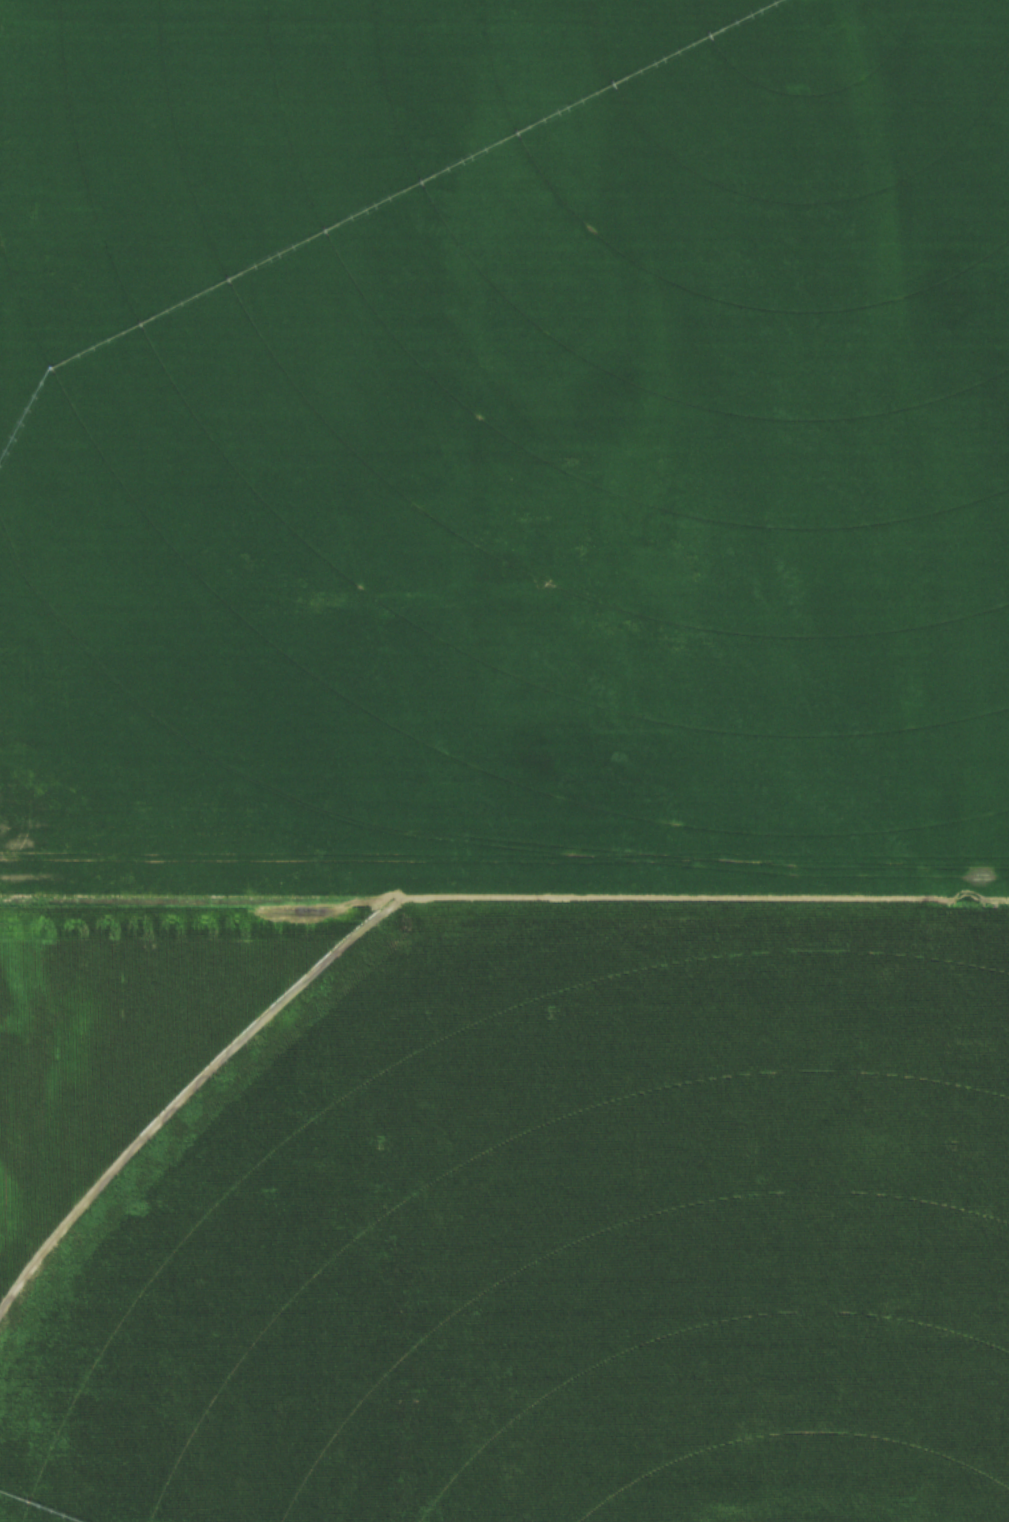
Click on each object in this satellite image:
crop: (504, 761)

